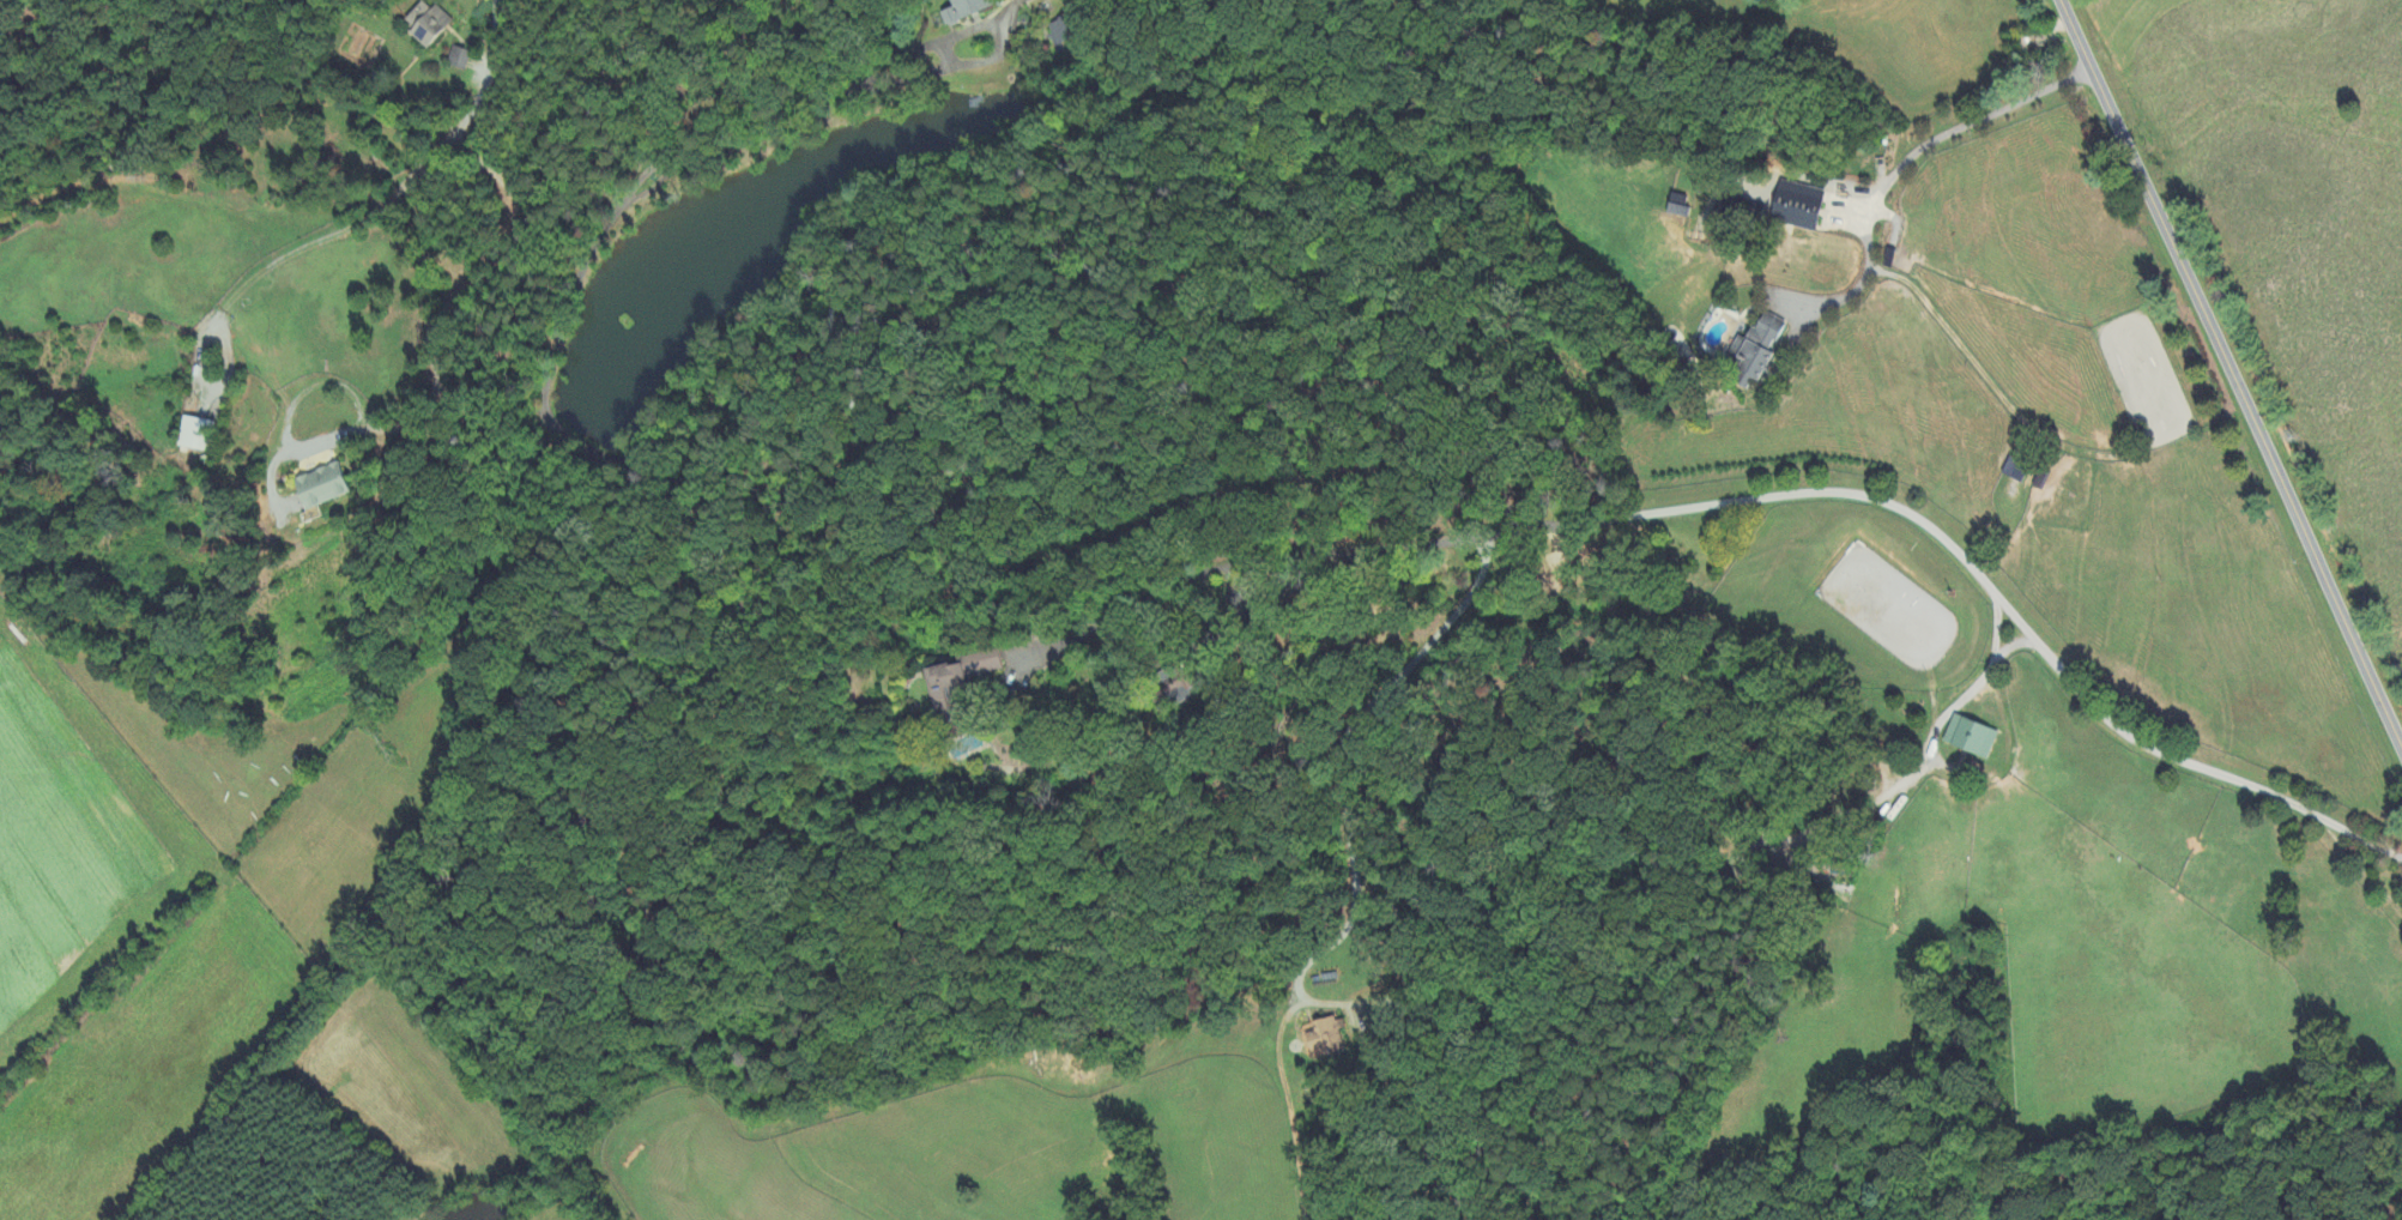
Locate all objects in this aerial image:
road: (1008, 37)
road: (1895, 174)
road: (325, 242)
road: (851, 247)
road: (424, 267)
road: (579, 274)
road: (2231, 375)
road: (1688, 507)
road: (1330, 569)
road: (1181, 581)
road: (1991, 624)
road: (2014, 646)
road: (1950, 706)
road: (1342, 757)

